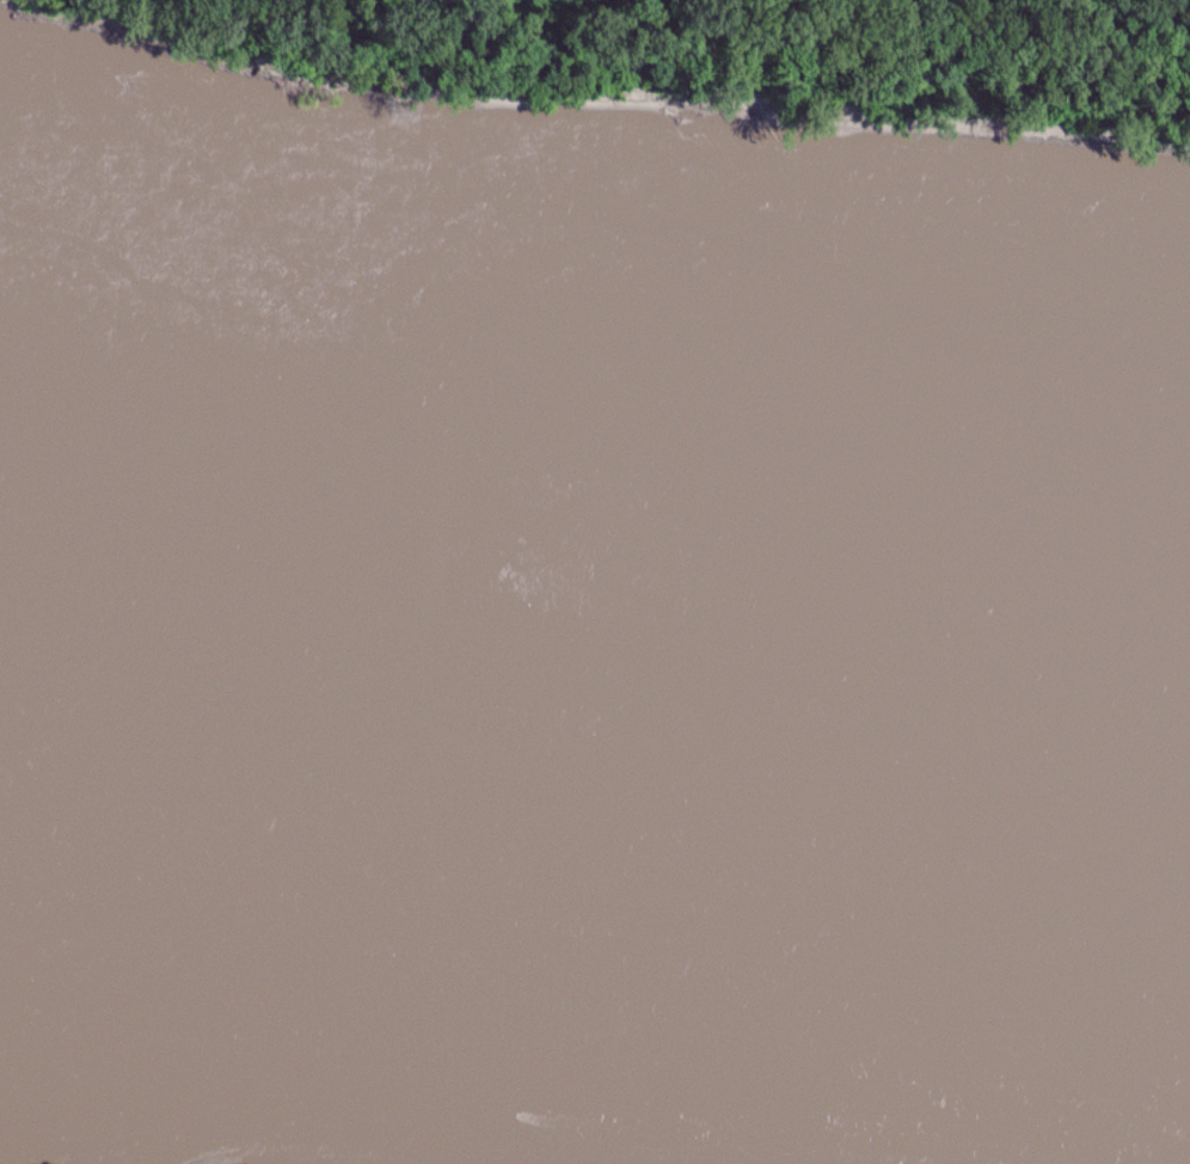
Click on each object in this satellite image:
river: (595, 718)

